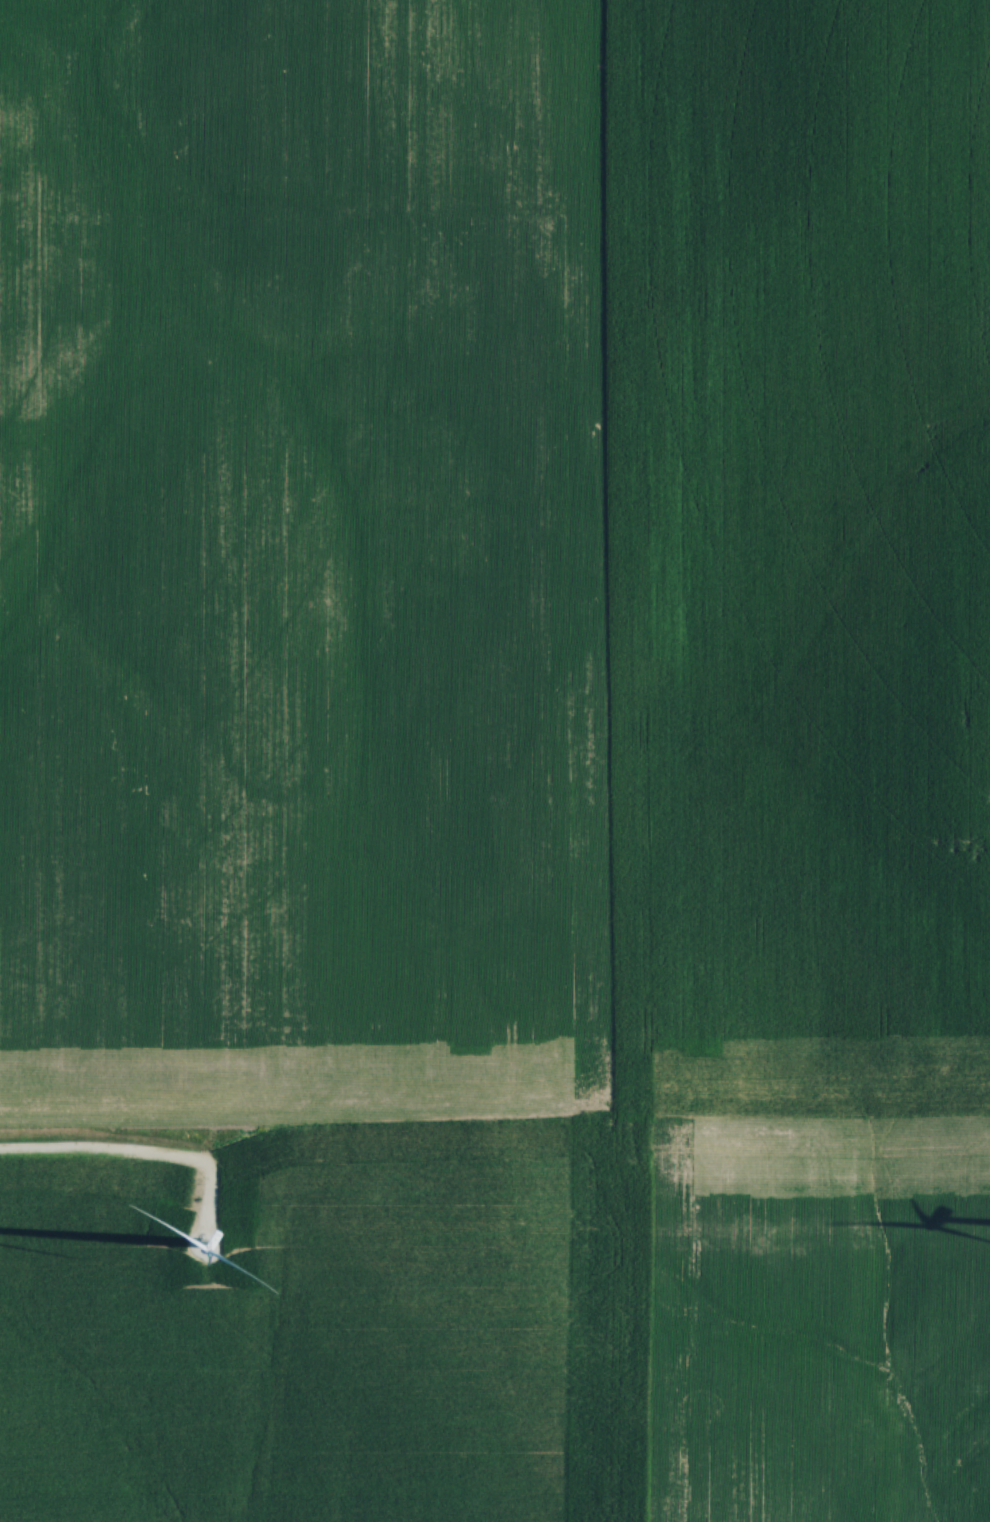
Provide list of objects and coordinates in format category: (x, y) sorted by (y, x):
building: (967, 838)
building: (966, 1008)
road: (139, 1148)
wind turbine: (203, 1241)

